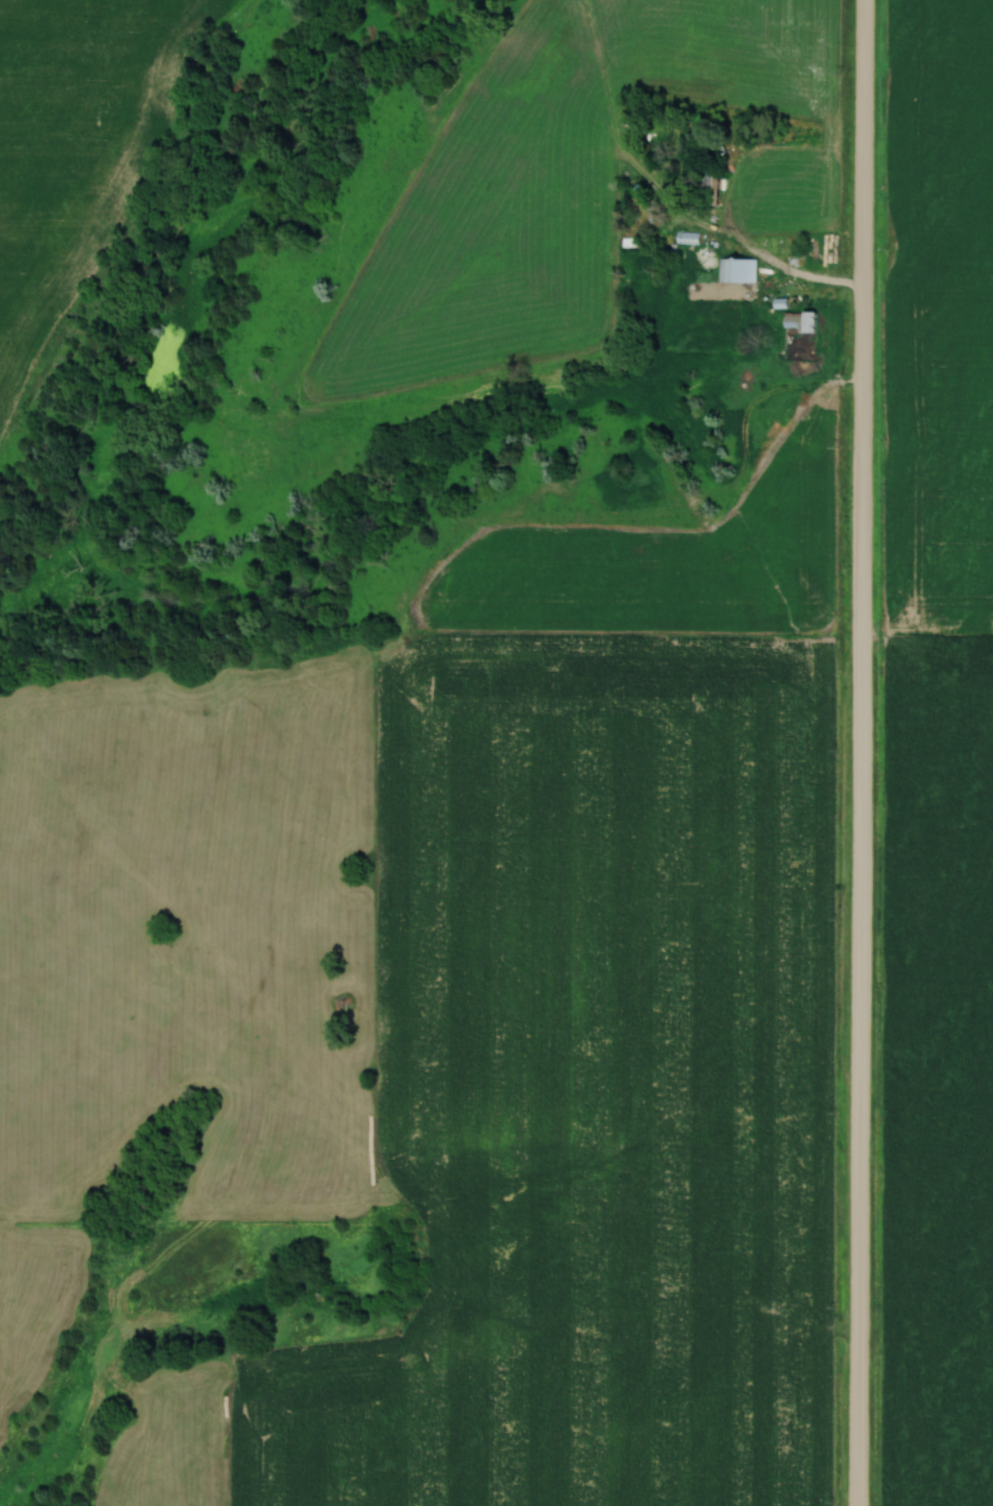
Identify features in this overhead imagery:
building: (687, 237)
building: (738, 269)
road: (795, 278)
crop: (939, 315)
building: (800, 320)
road: (857, 752)
crop: (594, 1087)

